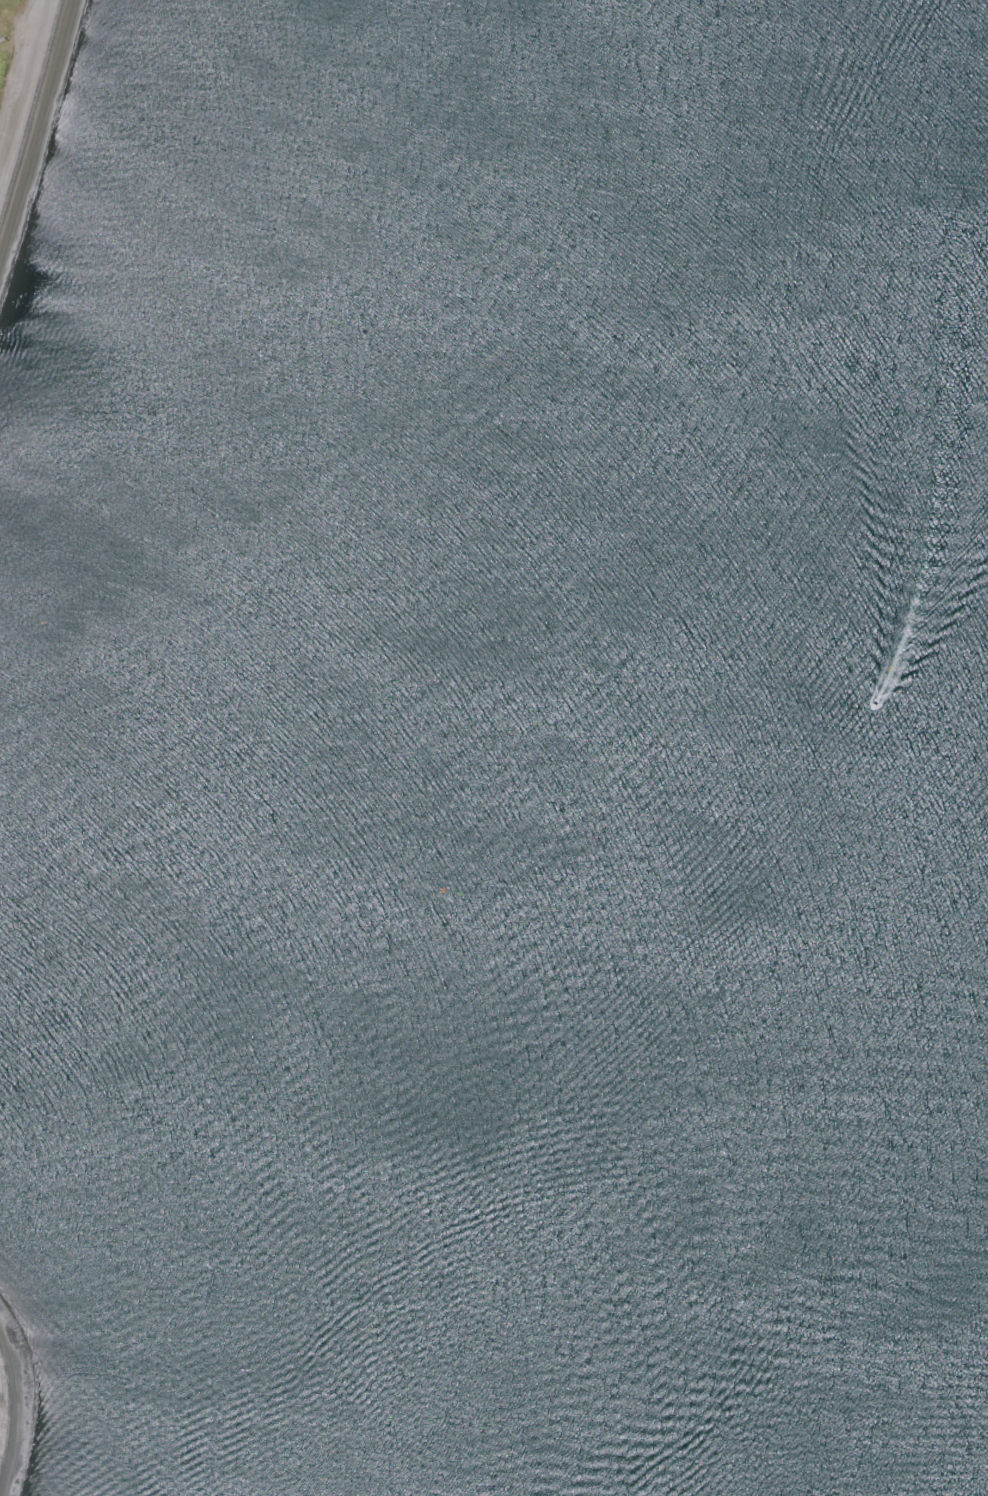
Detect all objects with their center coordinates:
park: (11, 39)
park: (6, 1417)

